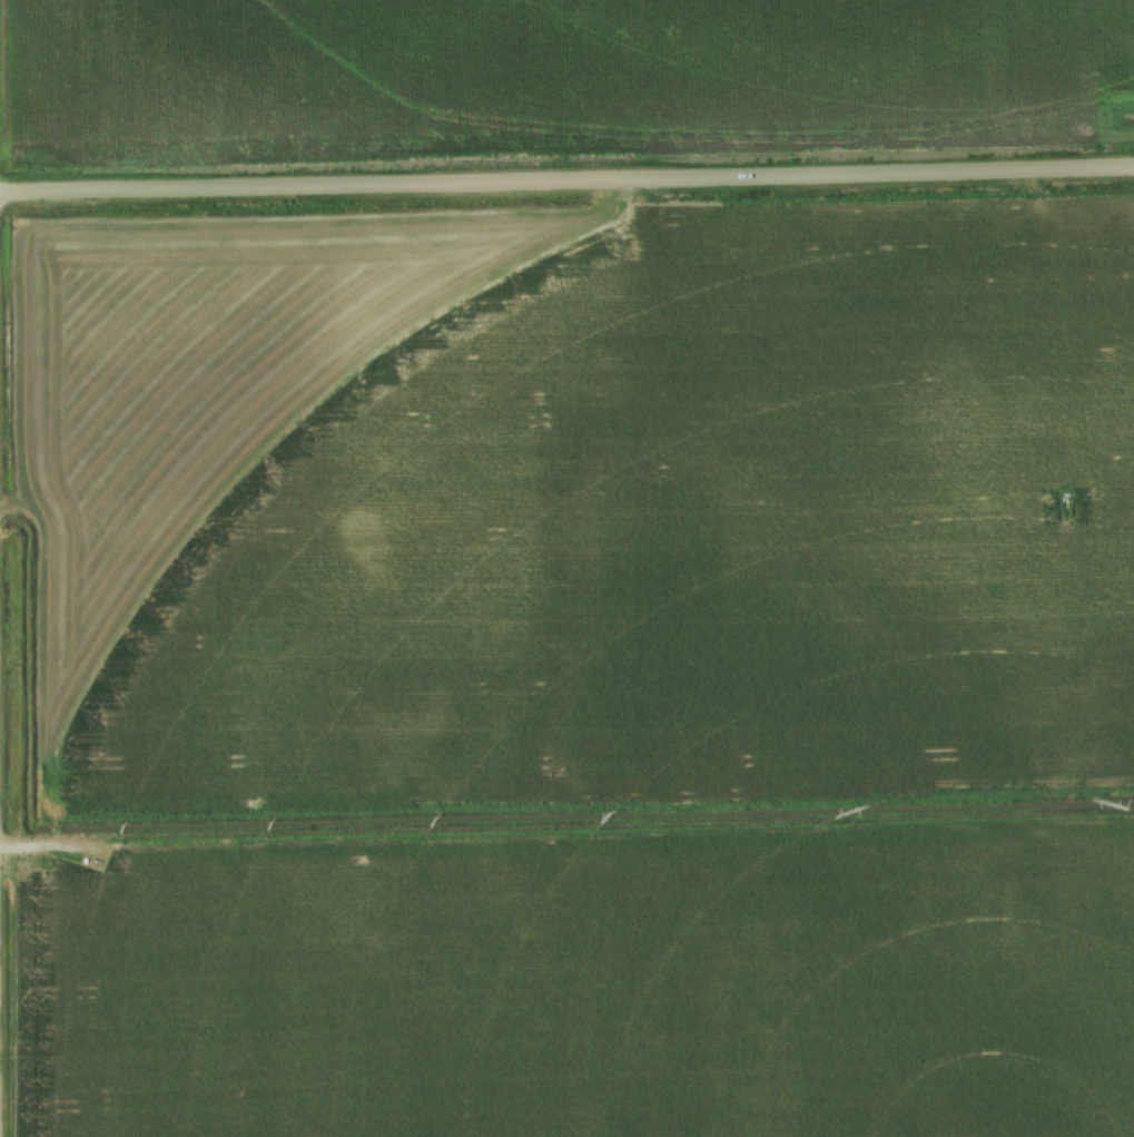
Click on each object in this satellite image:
crop: (548, 67)
road: (566, 182)
crop: (578, 503)
crop: (583, 988)

